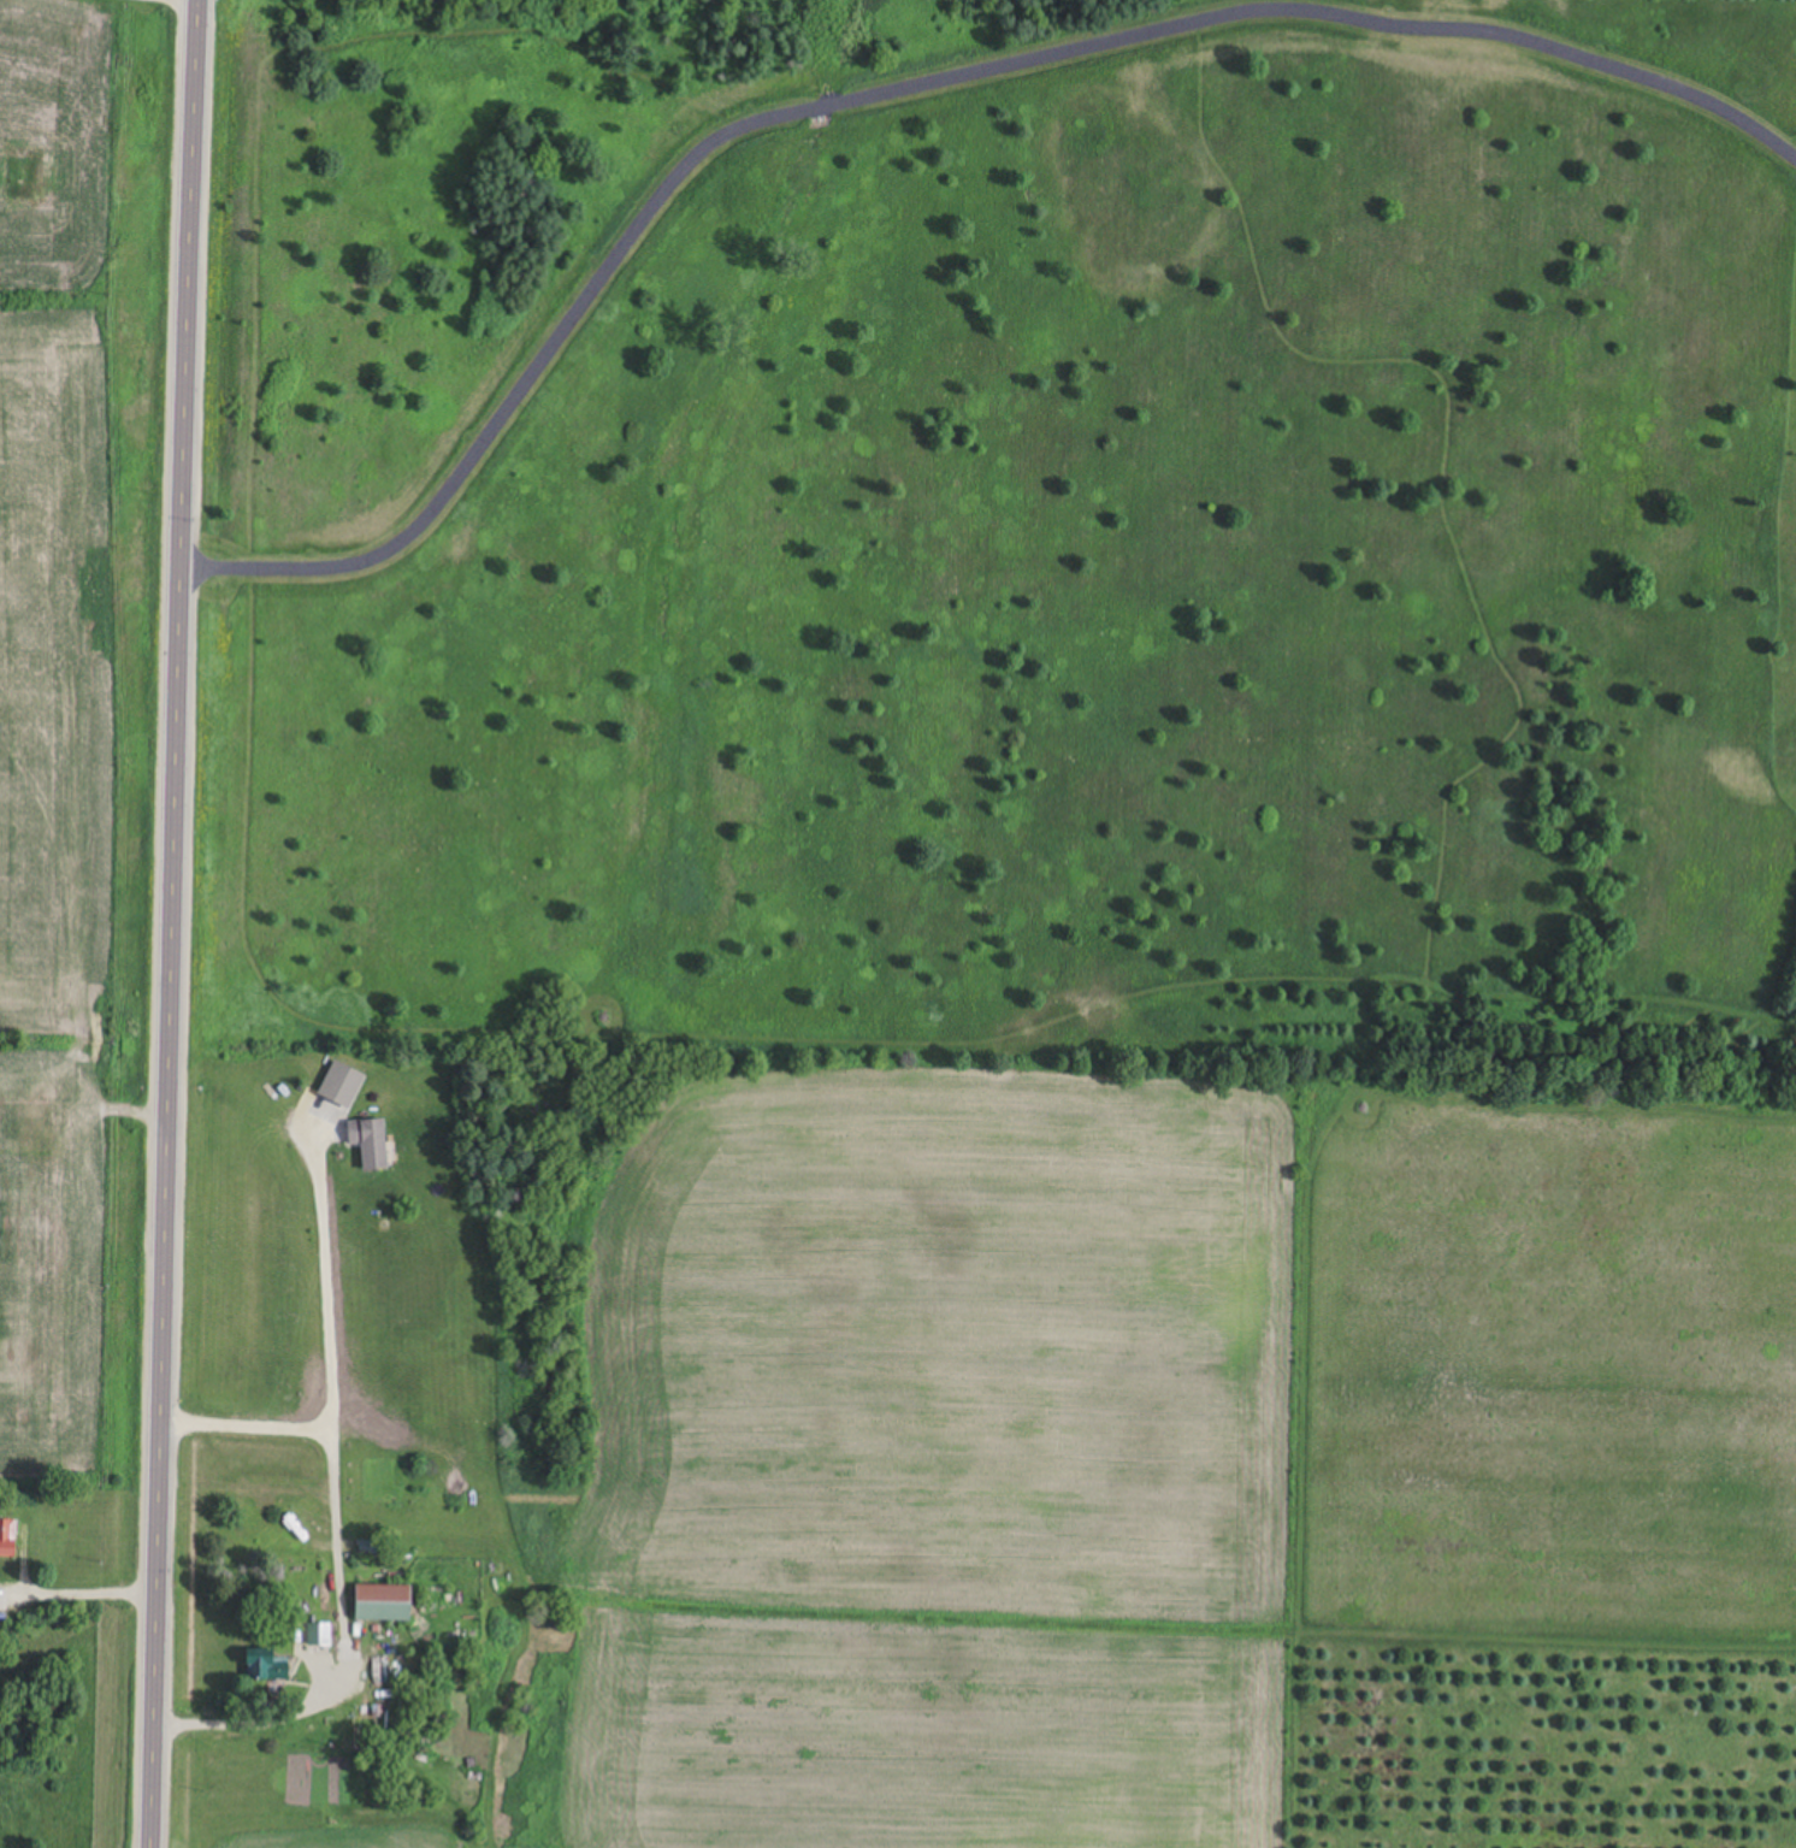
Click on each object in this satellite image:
road: (902, 89)
road: (173, 923)
building: (342, 1086)
building: (370, 1144)
road: (327, 1377)
building: (285, 1524)
building: (7, 1539)
building: (383, 1604)
building: (318, 1635)
building: (266, 1666)
road: (237, 1728)

